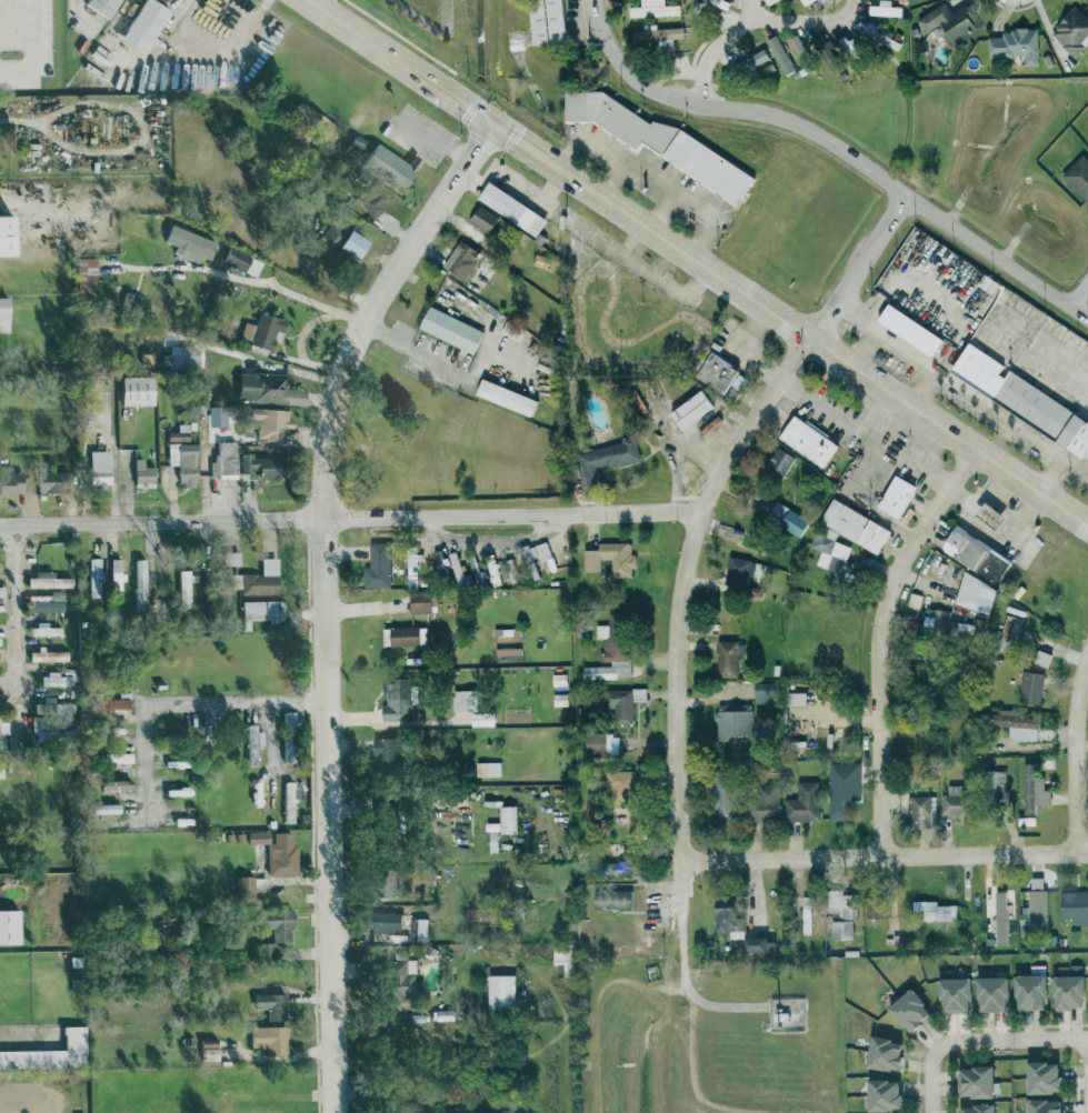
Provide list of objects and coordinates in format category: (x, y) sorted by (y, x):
building: (813, 3)
building: (108, 7)
road: (327, 7)
building: (656, 9)
building: (887, 9)
road: (751, 11)
road: (807, 20)
building: (551, 21)
building: (952, 22)
building: (148, 26)
building: (1074, 30)
building: (880, 36)
building: (657, 37)
building: (821, 44)
building: (1017, 44)
road: (29, 48)
building: (802, 50)
road: (709, 60)
building: (747, 66)
traffic signals: (490, 123)
building: (663, 140)
road: (834, 146)
building: (357, 147)
building: (393, 164)
building: (1079, 176)
building: (376, 203)
building: (515, 208)
building: (488, 220)
road: (423, 222)
building: (346, 239)
building: (192, 244)
building: (461, 258)
road: (861, 260)
building: (243, 261)
road: (697, 262)
road: (230, 274)
building: (86, 275)
road: (1076, 283)
building: (128, 300)
building: (6, 314)
road: (348, 317)
building: (914, 329)
building: (266, 330)
building: (455, 330)
road: (300, 343)
road: (409, 347)
building: (187, 355)
building: (721, 372)
building: (270, 389)
building: (140, 390)
building: (510, 398)
building: (1024, 399)
building: (695, 409)
road: (839, 414)
building: (272, 422)
building: (811, 440)
building: (184, 457)
building: (609, 458)
building: (227, 460)
building: (781, 463)
building: (264, 465)
building: (102, 467)
building: (146, 473)
building: (53, 481)
building: (12, 482)
road: (960, 495)
building: (899, 497)
road: (323, 508)
road: (511, 517)
building: (791, 519)
road: (161, 522)
building: (858, 527)
road: (984, 527)
building: (537, 552)
building: (978, 553)
building: (234, 558)
building: (612, 558)
building: (836, 560)
building: (0, 565)
building: (380, 565)
building: (457, 565)
building: (118, 573)
building: (742, 574)
building: (97, 576)
building: (263, 579)
building: (50, 580)
building: (141, 584)
building: (186, 588)
building: (2, 590)
building: (978, 594)
building: (49, 601)
building: (423, 602)
road: (679, 605)
road: (17, 606)
building: (263, 610)
building: (945, 622)
building: (1012, 624)
building: (506, 632)
building: (402, 635)
building: (616, 636)
building: (1, 640)
road: (879, 640)
building: (729, 658)
building: (1039, 658)
building: (600, 672)
building: (1027, 686)
building: (767, 692)
building: (399, 698)
building: (798, 699)
building: (119, 702)
road: (183, 704)
building: (621, 704)
building: (487, 718)
building: (736, 721)
building: (1012, 723)
building: (3, 724)
building: (47, 729)
road: (272, 732)
building: (254, 741)
building: (603, 742)
building: (290, 746)
road: (1075, 752)
building: (389, 753)
building: (121, 756)
building: (489, 768)
building: (1, 770)
building: (621, 782)
building: (119, 783)
building: (992, 785)
building: (845, 788)
building: (1030, 789)
building: (727, 799)
building: (290, 801)
building: (769, 802)
building: (805, 802)
building: (946, 805)
building: (917, 806)
building: (393, 810)
building: (510, 819)
building: (496, 841)
building: (279, 851)
road: (885, 855)
building: (621, 868)
building: (388, 881)
building: (252, 883)
building: (616, 899)
building: (1031, 905)
building: (1072, 905)
road: (331, 906)
building: (931, 910)
building: (842, 912)
building: (808, 914)
building: (730, 918)
building: (998, 918)
building: (383, 920)
building: (11, 925)
building: (277, 930)
building: (759, 943)
building: (567, 956)
building: (403, 976)
building: (1025, 991)
building: (1061, 991)
building: (1086, 991)
building: (505, 992)
building: (949, 992)
building: (985, 993)
building: (273, 1004)
building: (901, 1009)
road: (29, 1030)
building: (272, 1037)
road: (1007, 1040)
building: (51, 1052)
building: (212, 1052)
building: (876, 1052)
road: (1087, 1060)
road: (1087, 1061)
building: (1035, 1076)
building: (970, 1082)
road: (929, 1083)
building: (877, 1095)
building: (1036, 1105)
building: (967, 1107)

